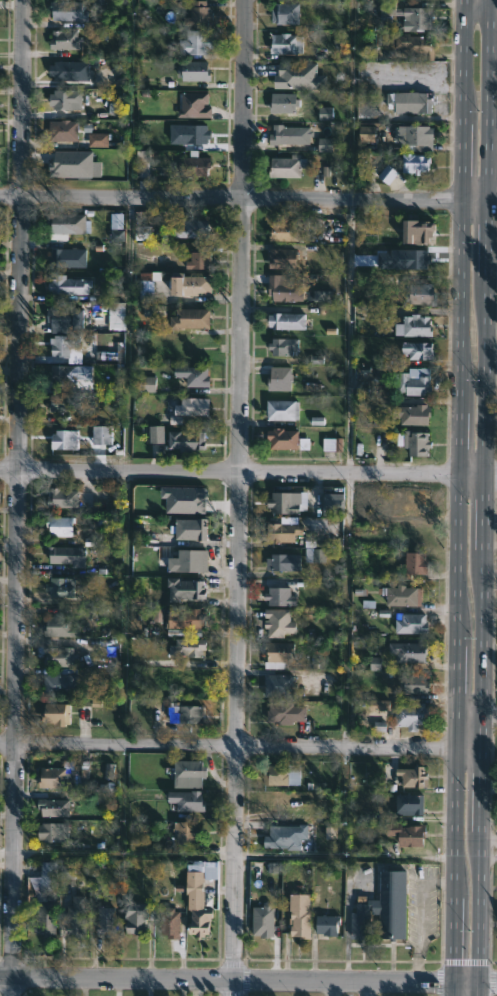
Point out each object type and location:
road: (491, 7)
road: (474, 8)
building: (70, 11)
building: (199, 13)
building: (282, 13)
building: (407, 16)
building: (68, 40)
building: (196, 42)
building: (287, 42)
building: (413, 45)
building: (193, 70)
building: (65, 71)
building: (299, 76)
building: (67, 99)
building: (411, 102)
building: (285, 103)
building: (192, 105)
building: (325, 114)
building: (65, 131)
building: (194, 133)
building: (284, 134)
building: (366, 135)
building: (413, 137)
building: (98, 140)
building: (325, 144)
building: (142, 163)
building: (74, 165)
building: (286, 165)
building: (402, 166)
building: (197, 167)
road: (230, 196)
road: (473, 199)
road: (491, 200)
building: (116, 221)
building: (65, 225)
building: (193, 229)
building: (143, 232)
building: (282, 232)
building: (413, 232)
building: (278, 258)
building: (65, 259)
building: (200, 259)
building: (188, 284)
building: (71, 285)
building: (147, 286)
building: (282, 290)
building: (420, 294)
building: (322, 296)
building: (154, 310)
building: (118, 316)
building: (189, 320)
building: (69, 321)
building: (288, 321)
building: (412, 326)
road: (348, 335)
building: (66, 345)
building: (286, 347)
building: (414, 350)
building: (71, 374)
building: (196, 376)
building: (282, 379)
building: (411, 382)
building: (147, 384)
building: (67, 404)
building: (189, 406)
building: (283, 411)
building: (410, 415)
building: (150, 433)
building: (103, 436)
building: (281, 438)
building: (66, 440)
building: (189, 441)
building: (412, 443)
building: (332, 444)
road: (227, 474)
road: (468, 474)
road: (488, 474)
road: (455, 497)
road: (479, 497)
road: (19, 498)
road: (237, 498)
building: (61, 499)
building: (184, 501)
building: (279, 502)
building: (328, 505)
building: (60, 526)
building: (194, 528)
building: (280, 531)
building: (67, 555)
building: (314, 555)
building: (192, 560)
building: (281, 561)
building: (415, 564)
building: (60, 587)
building: (186, 588)
building: (399, 595)
building: (277, 596)
building: (158, 615)
building: (189, 617)
building: (276, 622)
building: (408, 623)
building: (62, 626)
building: (191, 647)
building: (406, 651)
building: (274, 654)
building: (63, 657)
building: (375, 664)
building: (58, 682)
building: (411, 684)
building: (276, 685)
building: (380, 705)
road: (466, 712)
building: (283, 713)
road: (487, 713)
building: (55, 714)
building: (183, 714)
building: (407, 714)
road: (226, 747)
road: (465, 753)
building: (109, 771)
building: (189, 774)
building: (279, 774)
building: (410, 776)
building: (61, 777)
building: (87, 785)
building: (188, 801)
building: (407, 803)
building: (52, 807)
building: (55, 831)
building: (190, 832)
building: (403, 835)
building: (283, 836)
road: (487, 848)
road: (124, 854)
road: (343, 856)
building: (69, 872)
building: (46, 875)
building: (198, 896)
building: (381, 909)
building: (299, 914)
building: (79, 916)
building: (140, 918)
building: (48, 919)
road: (420, 919)
building: (104, 920)
building: (263, 921)
building: (173, 922)
building: (324, 924)
road: (345, 926)
road: (248, 982)
road: (331, 989)
road: (365, 990)

